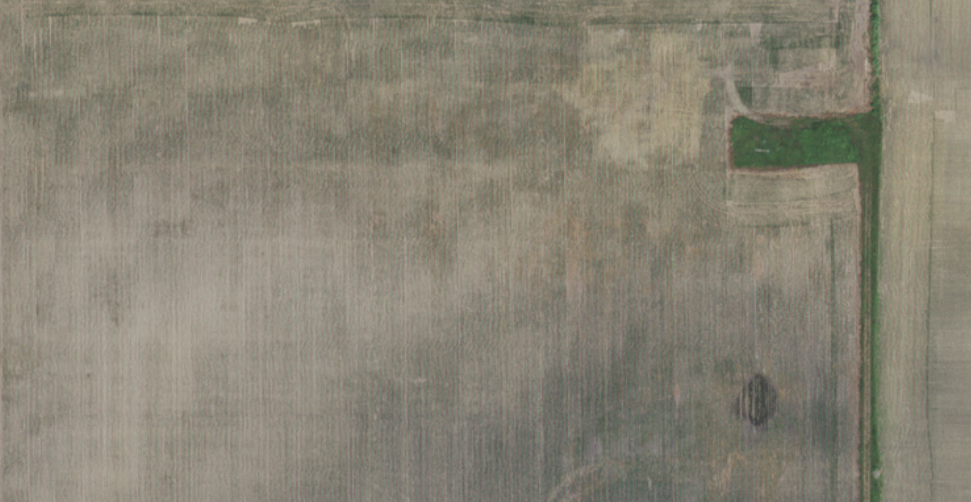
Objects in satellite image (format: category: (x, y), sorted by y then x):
road: (889, 251)

